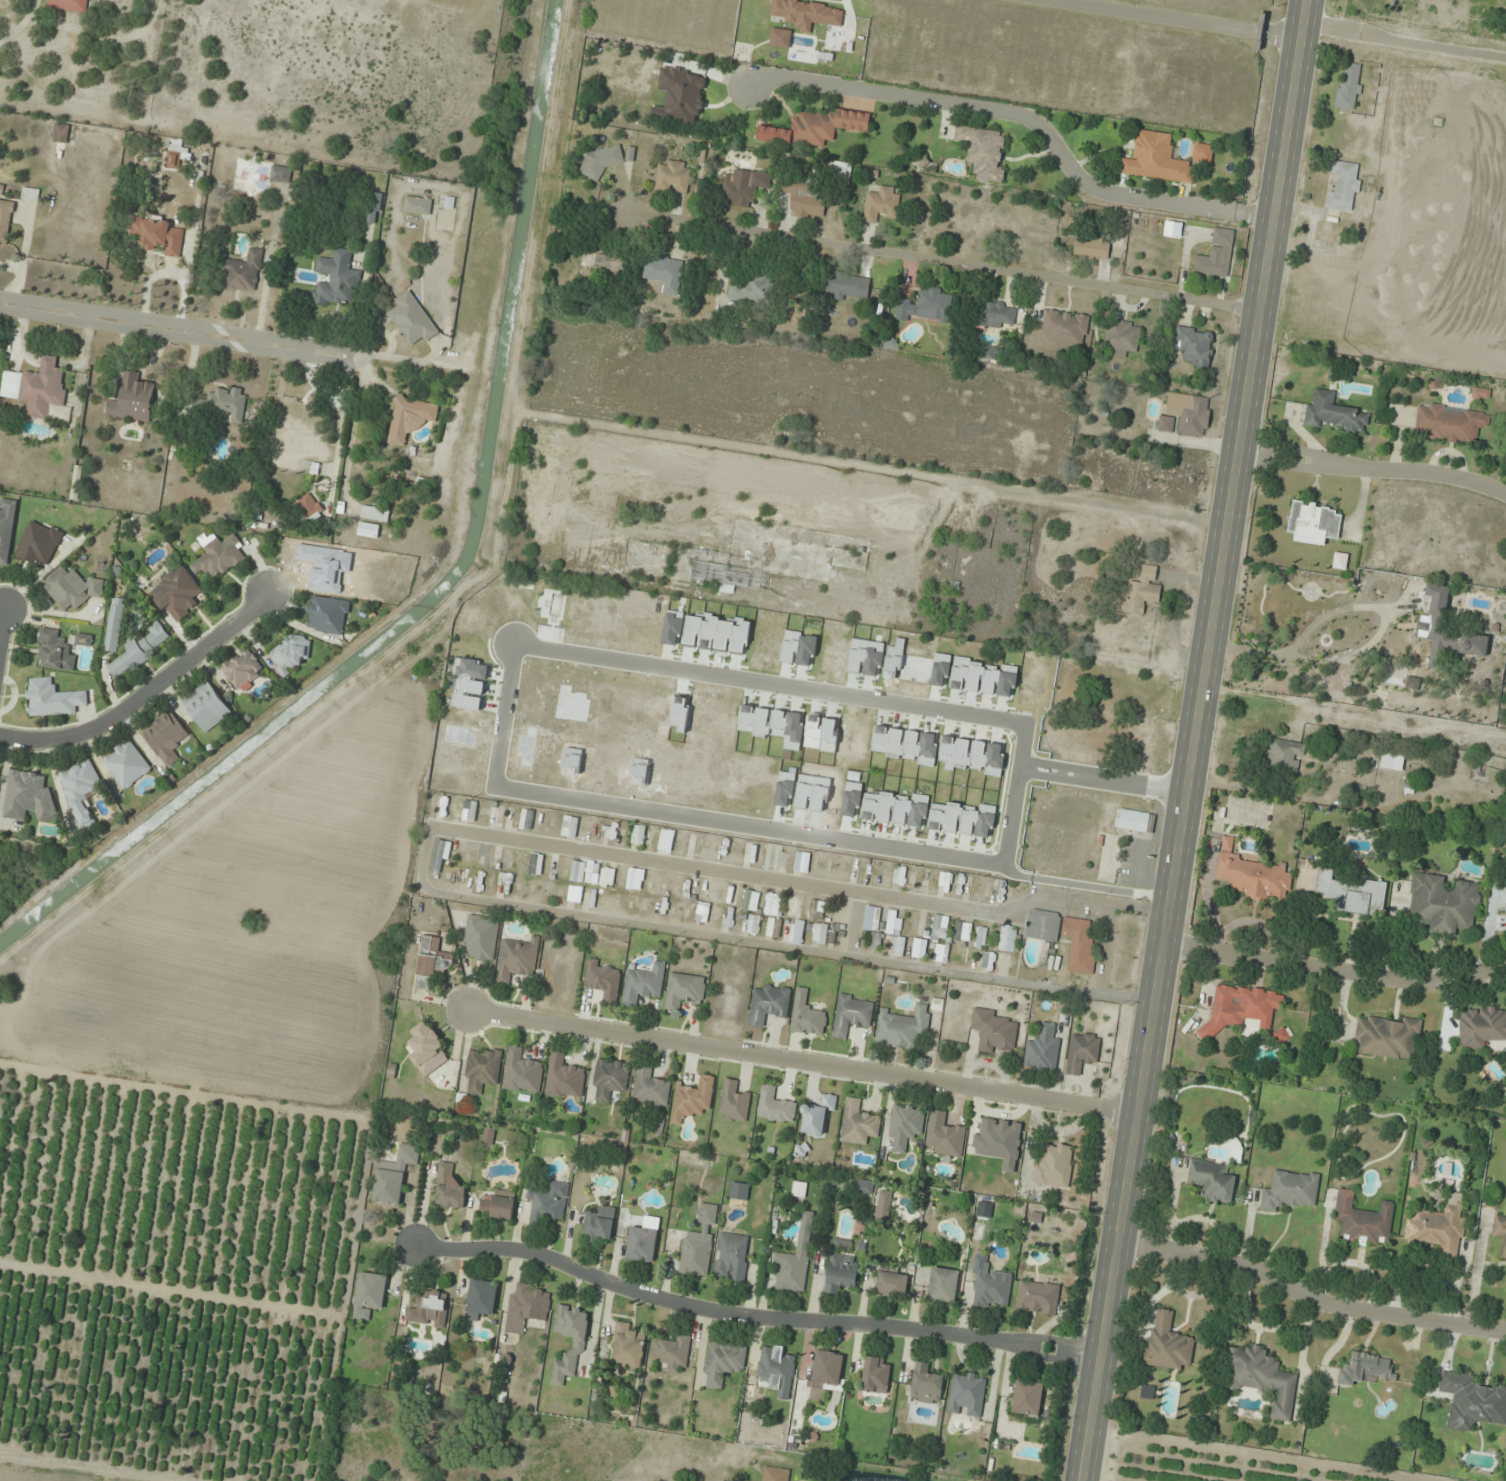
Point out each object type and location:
building: (68, 5)
road: (1180, 18)
road: (20, 23)
road: (1403, 40)
building: (1349, 86)
road: (1025, 117)
building: (821, 126)
building: (61, 132)
building: (983, 151)
building: (1202, 152)
building: (176, 154)
building: (601, 159)
building: (1156, 159)
building: (280, 174)
building: (672, 176)
building: (1343, 186)
building: (743, 187)
building: (2, 188)
building: (30, 194)
building: (803, 196)
building: (881, 204)
building: (417, 205)
building: (6, 221)
building: (1173, 229)
building: (158, 235)
building: (1091, 248)
building: (1216, 255)
road: (941, 263)
building: (609, 268)
building: (243, 271)
building: (664, 272)
building: (337, 280)
building: (848, 287)
building: (751, 289)
building: (927, 306)
building: (996, 314)
building: (411, 319)
road: (180, 326)
building: (1065, 327)
building: (1121, 338)
building: (1195, 346)
building: (990, 353)
building: (36, 388)
building: (1480, 392)
building: (133, 399)
building: (228, 401)
building: (1335, 413)
building: (1186, 414)
building: (410, 418)
building: (1450, 423)
road: (1372, 470)
road: (1098, 505)
building: (311, 508)
building: (375, 513)
building: (1313, 520)
building: (6, 530)
building: (369, 530)
building: (39, 542)
building: (220, 557)
building: (1340, 560)
building: (724, 572)
building: (72, 588)
building: (1142, 591)
building: (176, 594)
building: (327, 614)
road: (2, 621)
building: (115, 624)
building: (1447, 633)
building: (140, 650)
building: (54, 651)
building: (292, 653)
road: (514, 662)
building: (242, 668)
road: (142, 690)
building: (52, 698)
building: (206, 706)
building: (165, 736)
road: (1194, 740)
building: (1043, 751)
building: (1285, 755)
building: (126, 764)
building: (80, 791)
building: (28, 795)
road: (1320, 797)
building: (443, 807)
building: (496, 813)
building: (526, 818)
building: (1134, 820)
building: (638, 835)
road: (423, 853)
building: (802, 861)
building: (844, 866)
building: (874, 871)
building: (1252, 874)
building: (899, 875)
building: (607, 877)
building: (945, 881)
road: (1085, 885)
building: (689, 887)
building: (1349, 893)
building: (751, 900)
building: (773, 904)
building: (1442, 904)
building: (794, 906)
building: (817, 910)
building: (872, 918)
road: (853, 923)
building: (1042, 925)
building: (774, 928)
building: (939, 928)
building: (817, 932)
building: (962, 932)
building: (895, 934)
building: (481, 937)
building: (981, 937)
building: (1007, 938)
building: (875, 940)
building: (1079, 943)
road: (1106, 948)
building: (517, 960)
building: (432, 962)
road: (1334, 967)
building: (603, 980)
building: (643, 982)
building: (683, 990)
building: (768, 1004)
building: (1241, 1007)
building: (852, 1015)
building: (807, 1016)
building: (902, 1026)
building: (1480, 1026)
building: (993, 1030)
building: (1388, 1037)
building: (427, 1048)
building: (1043, 1050)
building: (1082, 1053)
road: (800, 1061)
building: (482, 1069)
building: (522, 1071)
building: (564, 1077)
building: (610, 1079)
building: (651, 1088)
building: (692, 1098)
building: (733, 1103)
building: (775, 1105)
building: (817, 1115)
building: (858, 1122)
building: (905, 1126)
building: (945, 1135)
building: (488, 1136)
building: (1055, 1166)
building: (394, 1174)
building: (1212, 1181)
building: (449, 1186)
building: (863, 1186)
building: (799, 1189)
building: (1291, 1190)
building: (549, 1202)
building: (498, 1205)
building: (883, 1205)
building: (1363, 1220)
building: (598, 1224)
building: (1437, 1227)
building: (1500, 1233)
building: (643, 1240)
building: (699, 1244)
building: (731, 1257)
building: (796, 1258)
building: (841, 1272)
building: (891, 1284)
building: (943, 1284)
building: (990, 1286)
building: (369, 1294)
road: (1307, 1294)
building: (1038, 1297)
building: (481, 1299)
building: (525, 1306)
building: (429, 1309)
road: (750, 1320)
building: (578, 1343)
building: (1167, 1343)
building: (627, 1346)
building: (672, 1353)
building: (722, 1362)
building: (1365, 1368)
building: (776, 1369)
building: (826, 1373)
building: (876, 1375)
building: (1262, 1377)
building: (926, 1385)
building: (967, 1394)
building: (1027, 1398)
building: (1472, 1401)
road: (1261, 1454)
building: (776, 1474)

